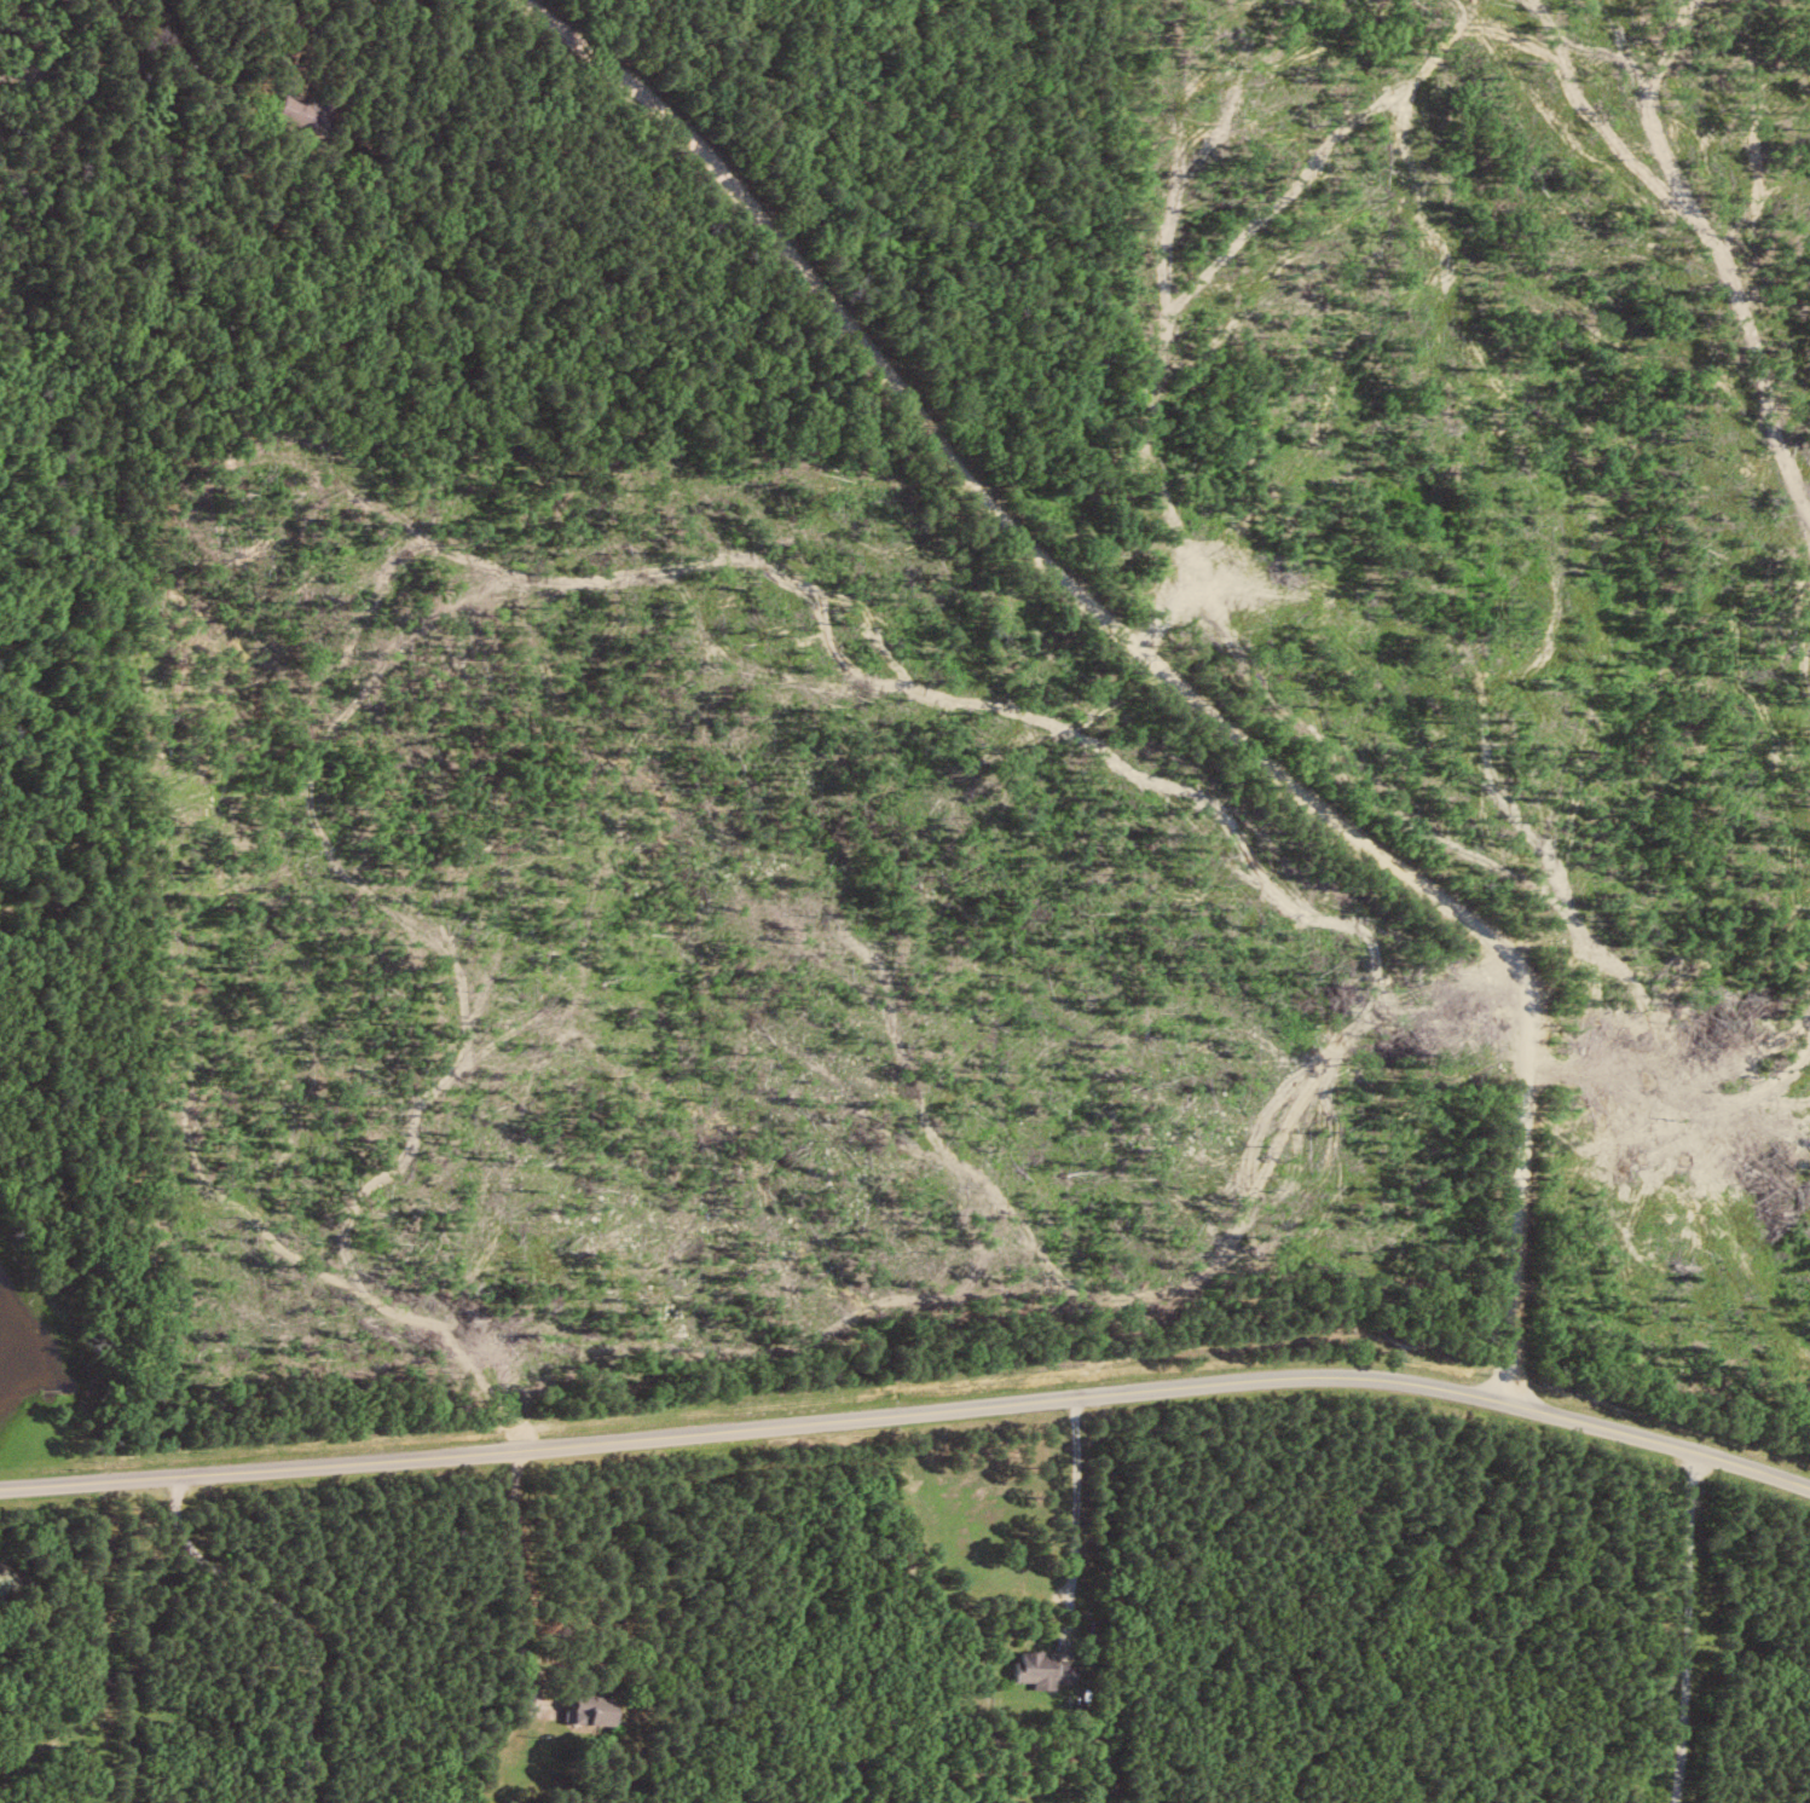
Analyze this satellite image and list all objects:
road: (191, 67)
building: (300, 108)
road: (1143, 659)
road: (1447, 1385)
road: (792, 1423)
road: (255, 1469)
road: (1070, 1516)
road: (515, 1580)
building: (1047, 1669)
building: (596, 1711)

